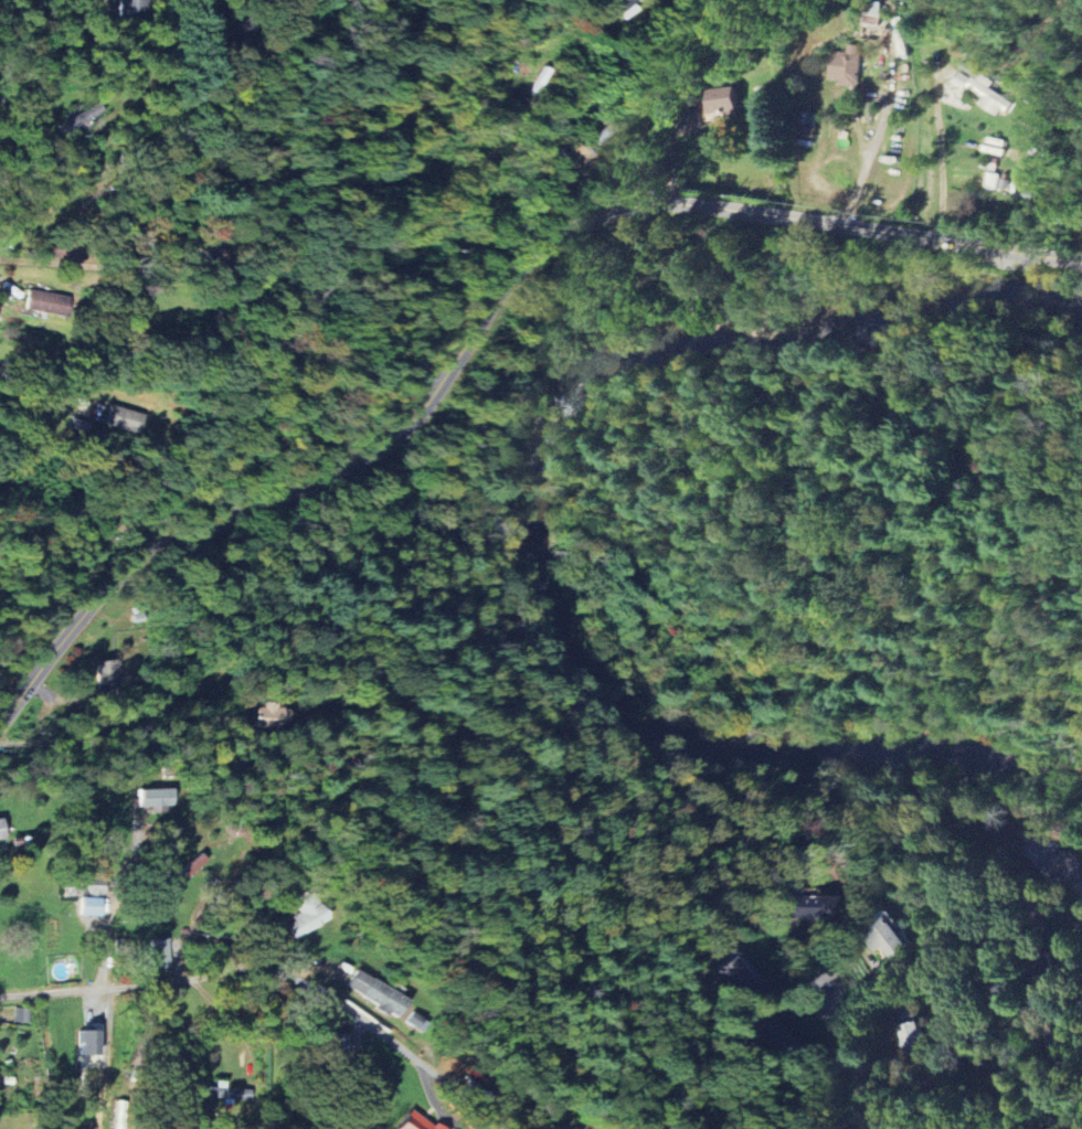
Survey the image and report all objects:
building: (132, 8)
building: (847, 68)
road: (669, 78)
building: (962, 79)
building: (990, 96)
building: (723, 102)
building: (79, 125)
building: (614, 130)
road: (871, 140)
road: (935, 150)
road: (49, 207)
building: (47, 300)
road: (477, 317)
building: (126, 419)
river: (537, 528)
building: (109, 675)
building: (270, 715)
road: (102, 726)
building: (966, 757)
building: (157, 798)
building: (2, 830)
building: (1046, 851)
building: (89, 885)
building: (804, 910)
road: (112, 915)
building: (307, 915)
building: (889, 938)
building: (161, 952)
building: (731, 973)
road: (278, 974)
building: (378, 993)
building: (22, 1015)
building: (761, 1033)
building: (913, 1037)
building: (89, 1043)
building: (344, 1043)
road: (853, 1055)
building: (120, 1115)
road: (797, 1116)
building: (414, 1122)

